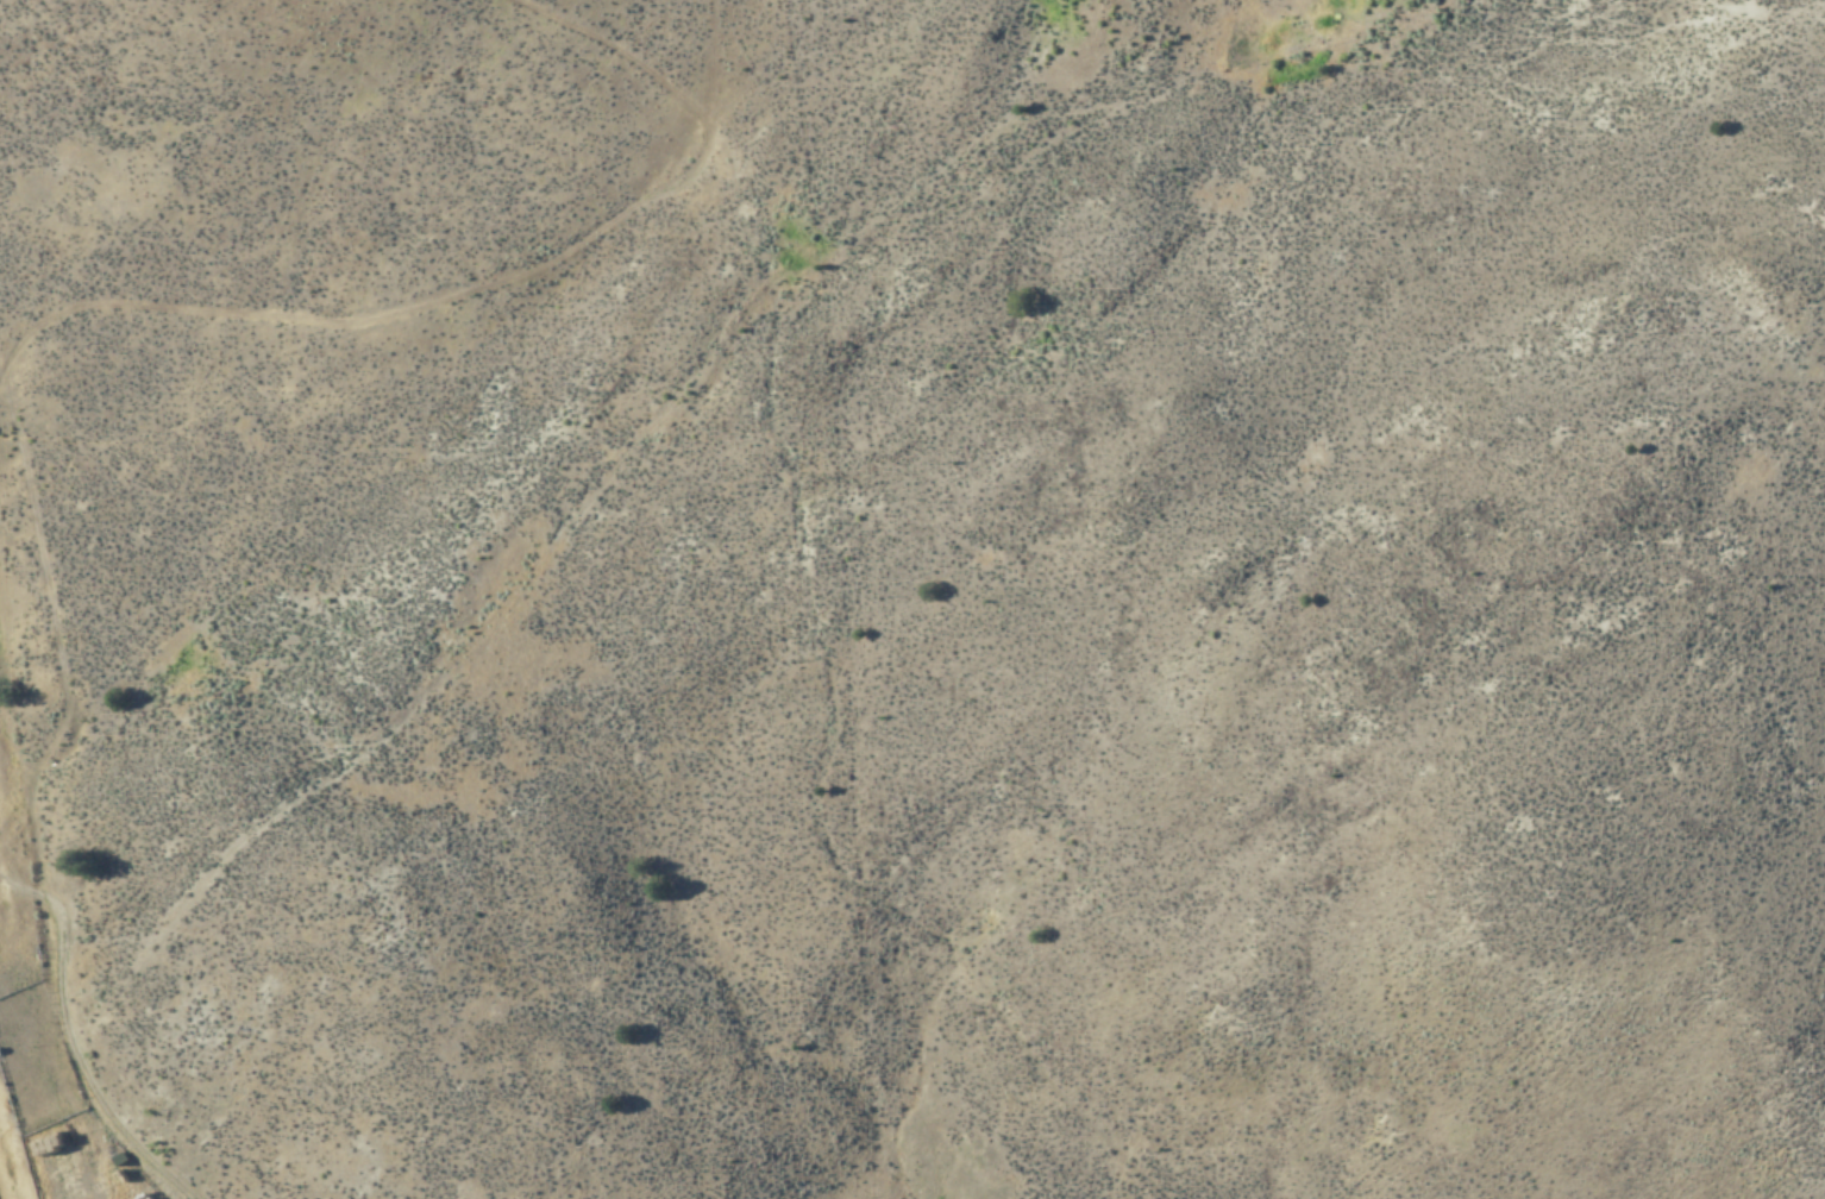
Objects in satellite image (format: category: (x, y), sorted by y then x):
road: (457, 301)
road: (0, 811)

